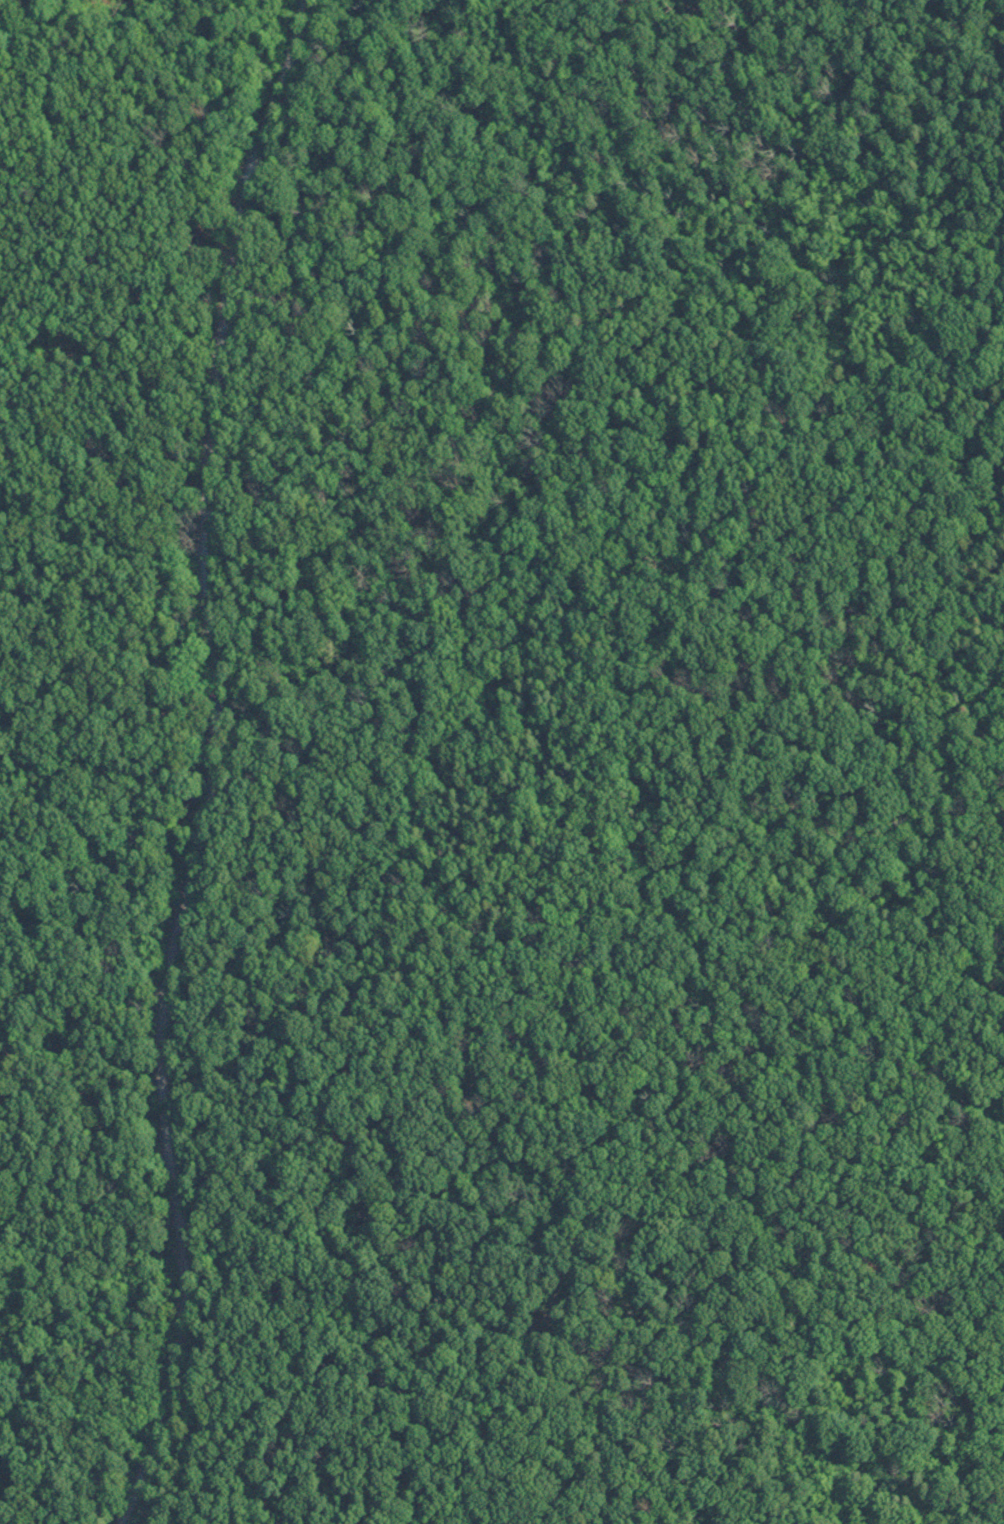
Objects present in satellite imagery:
road: (207, 763)

